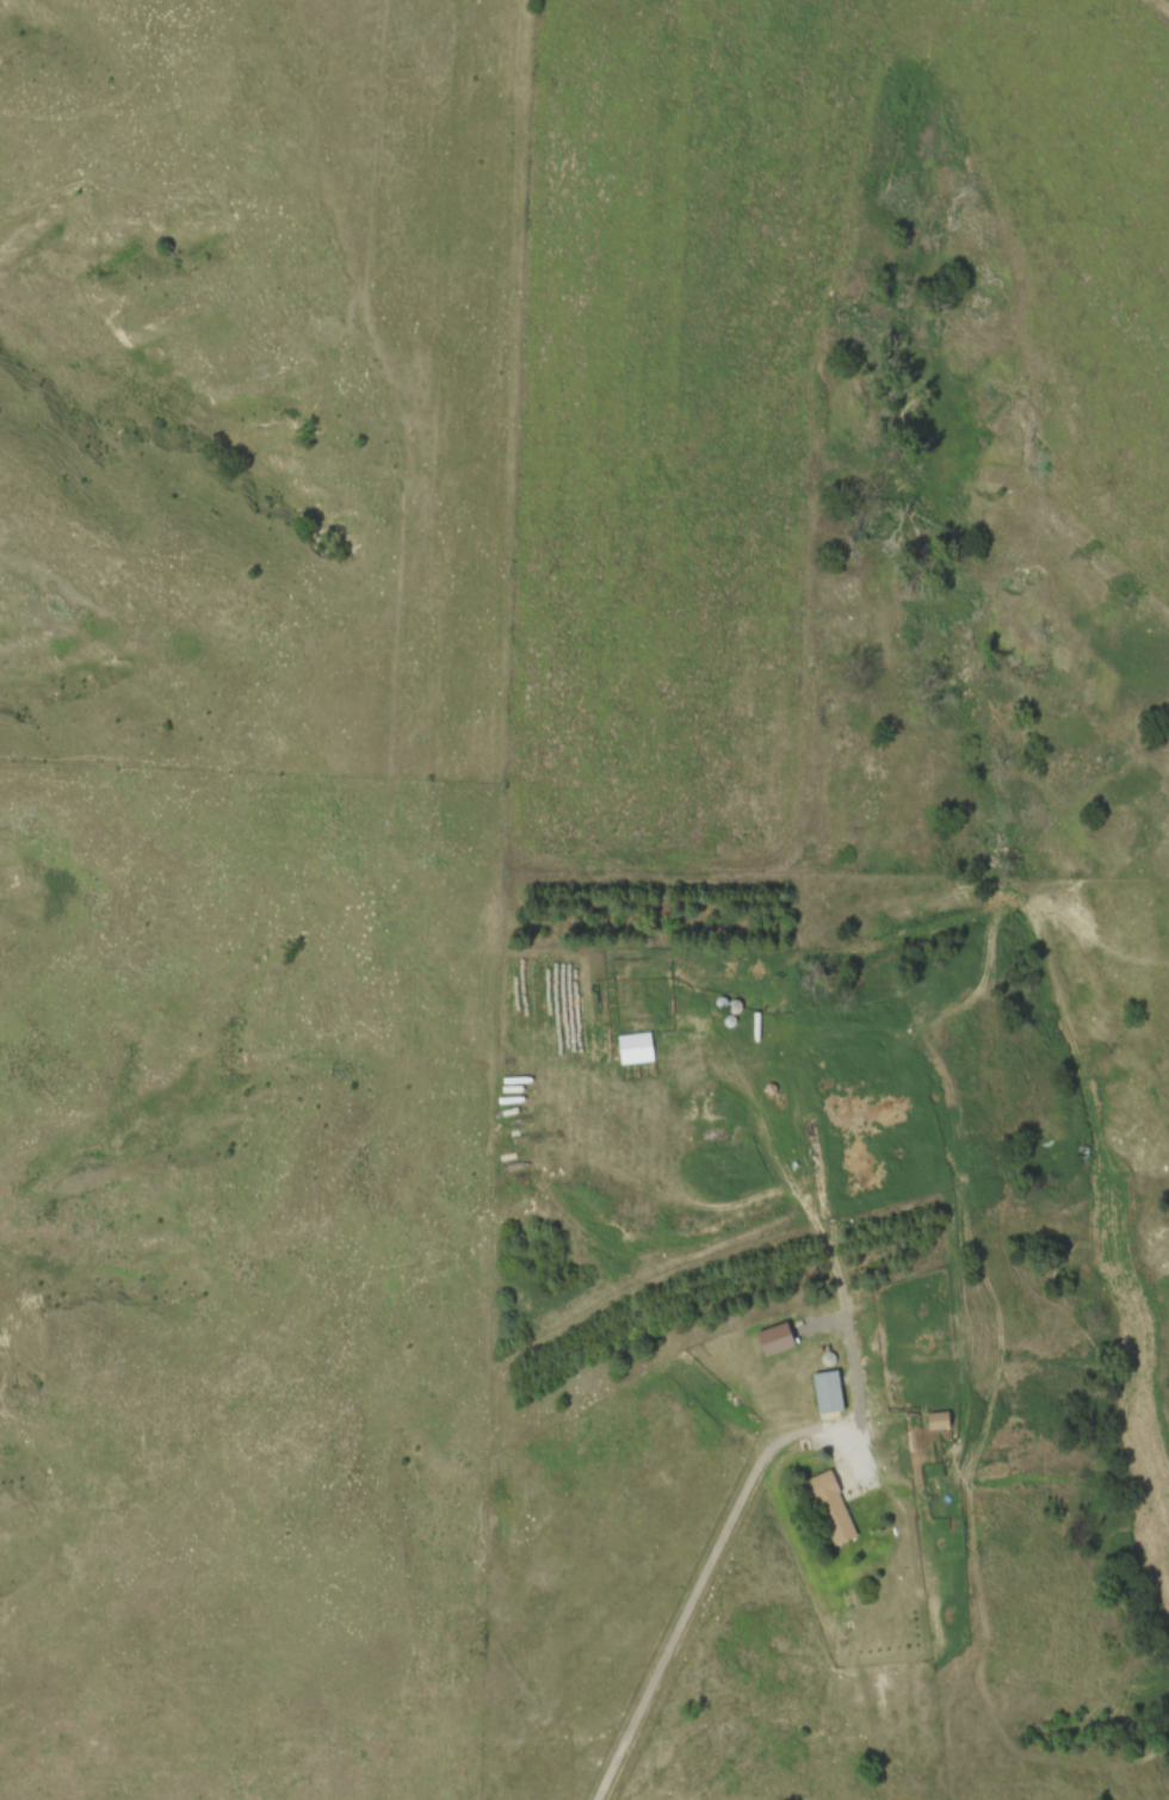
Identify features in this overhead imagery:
airport: (1161, 6)
building: (825, 1392)
building: (934, 1421)
building: (828, 1509)
road: (704, 1570)

